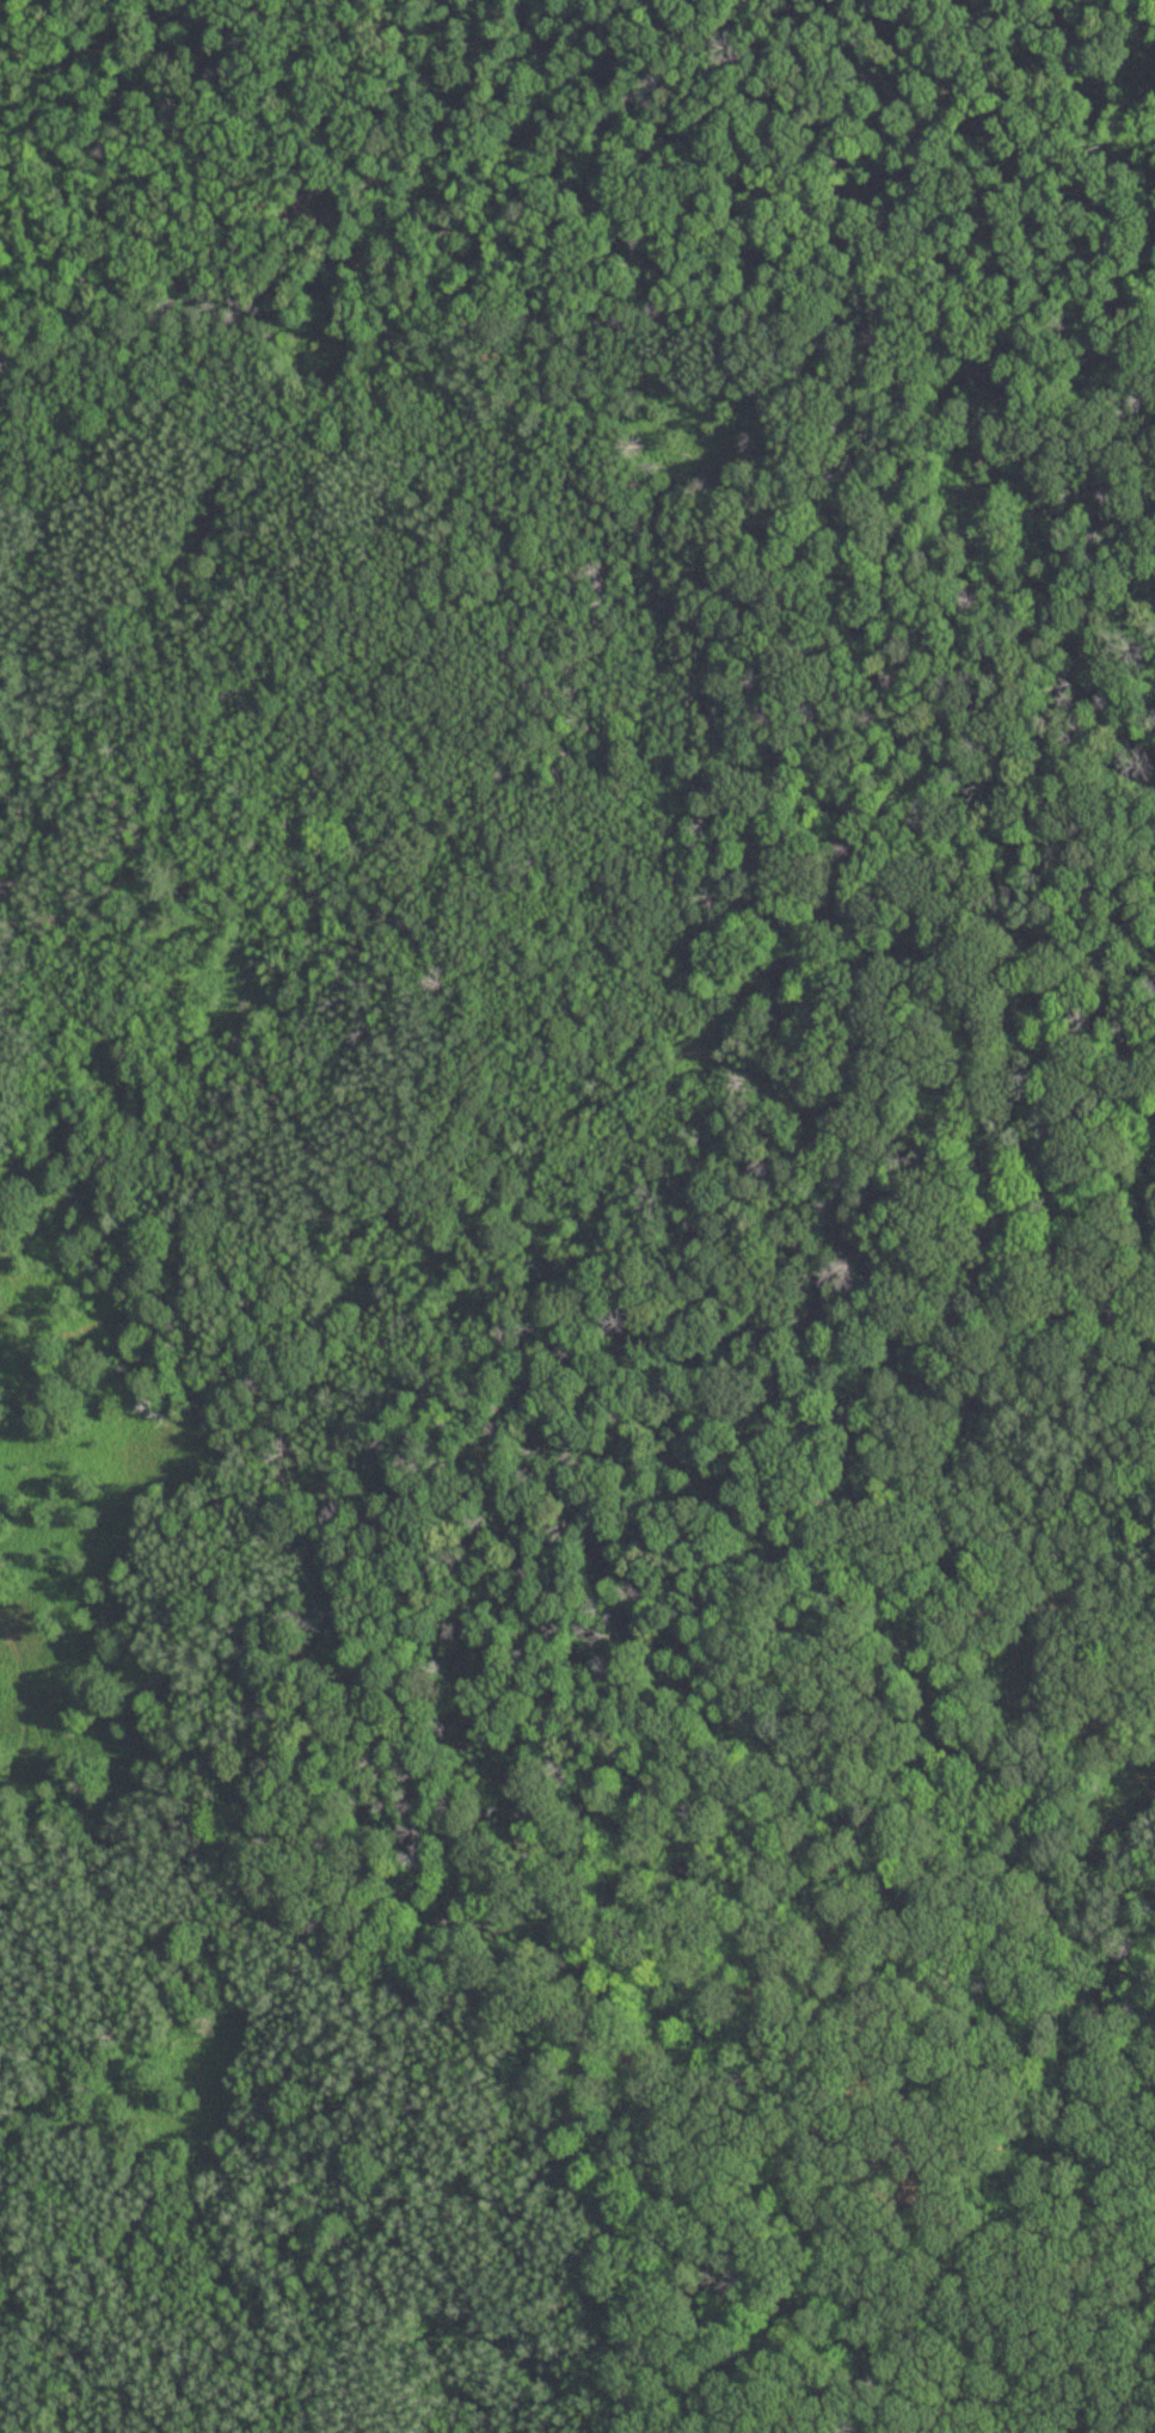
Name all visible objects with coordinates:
road: (852, 892)

